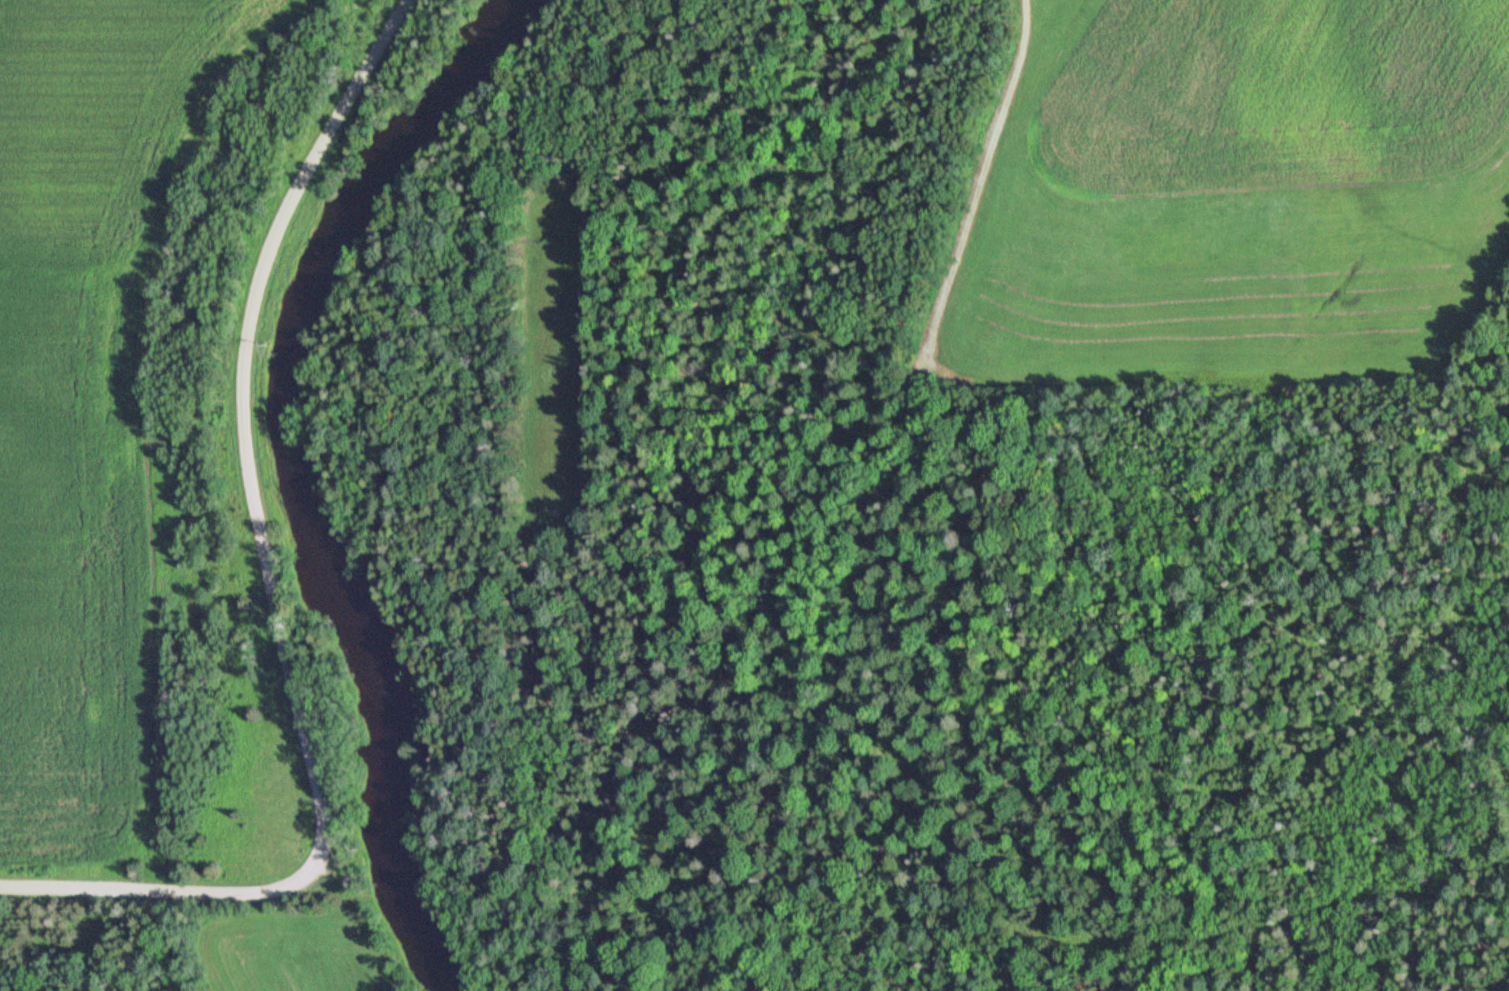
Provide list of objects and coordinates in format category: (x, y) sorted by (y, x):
road: (983, 193)
river: (314, 478)
road: (268, 577)

